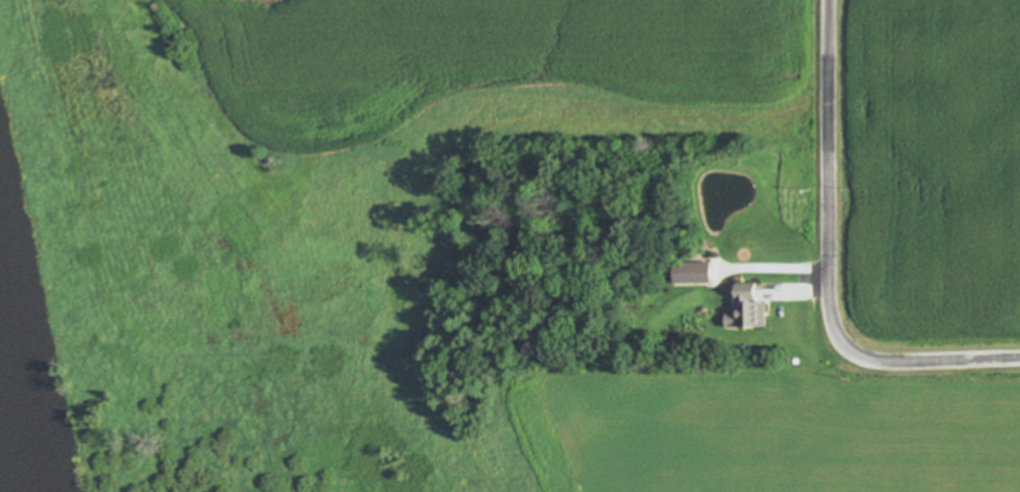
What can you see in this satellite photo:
road: (828, 264)
building: (692, 272)
building: (748, 306)
river: (13, 431)

